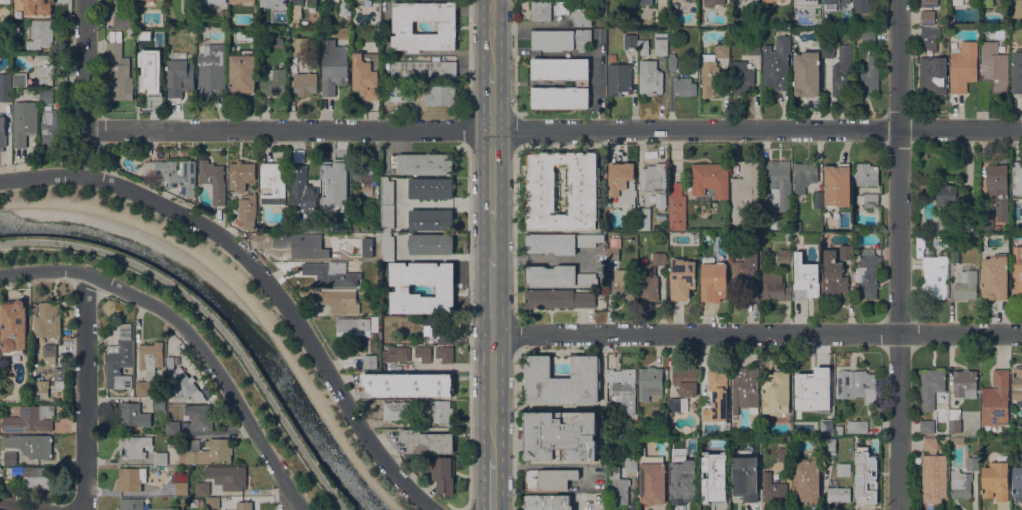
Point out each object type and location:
building: (151, 0)
building: (690, 0)
building: (773, 0)
building: (4, 1)
building: (212, 1)
building: (243, 1)
building: (646, 1)
building: (739, 1)
building: (768, 1)
building: (958, 1)
building: (262, 2)
building: (312, 2)
building: (713, 2)
building: (805, 2)
building: (987, 2)
building: (325, 3)
building: (754, 3)
building: (929, 3)
building: (830, 4)
building: (38, 6)
building: (861, 6)
building: (189, 7)
building: (344, 8)
building: (829, 8)
building: (846, 8)
building: (1017, 8)
building: (541, 10)
building: (662, 12)
building: (295, 13)
building: (574, 13)
building: (813, 13)
building: (927, 17)
building: (123, 20)
building: (303, 23)
building: (403, 26)
building: (131, 32)
building: (651, 32)
building: (857, 33)
building: (161, 34)
building: (40, 35)
building: (868, 36)
road: (492, 37)
building: (929, 38)
building: (561, 39)
building: (630, 40)
building: (661, 43)
building: (301, 46)
building: (753, 47)
building: (643, 48)
building: (722, 49)
building: (828, 50)
road: (579, 52)
building: (672, 61)
building: (776, 63)
building: (333, 66)
building: (963, 66)
building: (994, 66)
building: (44, 69)
building: (117, 69)
building: (211, 69)
building: (424, 69)
building: (561, 69)
building: (1017, 70)
building: (147, 71)
building: (841, 72)
building: (242, 73)
building: (806, 73)
building: (933, 73)
building: (366, 75)
building: (180, 77)
building: (650, 77)
building: (741, 77)
building: (867, 77)
building: (20, 79)
building: (619, 79)
building: (711, 79)
building: (274, 82)
building: (305, 83)
building: (685, 86)
building: (5, 87)
road: (84, 87)
building: (400, 94)
building: (441, 95)
building: (46, 96)
building: (561, 97)
road: (492, 101)
building: (24, 121)
building: (52, 127)
road: (553, 129)
building: (2, 131)
building: (422, 163)
building: (137, 172)
building: (175, 172)
building: (333, 172)
road: (492, 174)
building: (866, 174)
building: (241, 175)
building: (364, 177)
building: (654, 177)
building: (710, 178)
building: (1018, 178)
building: (213, 180)
building: (807, 181)
building: (273, 182)
building: (622, 182)
building: (837, 185)
building: (776, 187)
building: (431, 188)
building: (542, 189)
building: (998, 189)
building: (303, 191)
building: (387, 191)
building: (745, 191)
building: (344, 196)
building: (947, 196)
building: (868, 199)
building: (660, 200)
building: (677, 207)
building: (248, 211)
building: (387, 216)
building: (986, 217)
building: (643, 218)
building: (431, 219)
building: (965, 223)
building: (356, 226)
building: (998, 227)
building: (1005, 227)
building: (345, 228)
building: (950, 230)
road: (514, 231)
building: (362, 237)
road: (492, 239)
building: (559, 242)
building: (944, 242)
building: (300, 244)
building: (431, 244)
building: (388, 246)
building: (846, 252)
building: (613, 253)
building: (785, 255)
building: (797, 255)
road: (899, 255)
building: (953, 255)
road: (541, 259)
building: (932, 271)
building: (1017, 271)
building: (332, 273)
building: (834, 274)
building: (868, 274)
road: (261, 275)
building: (557, 275)
building: (746, 275)
building: (651, 277)
building: (995, 277)
building: (682, 278)
building: (714, 280)
building: (624, 284)
building: (807, 284)
building: (966, 285)
building: (775, 286)
building: (446, 288)
road: (242, 293)
road: (492, 296)
building: (559, 298)
building: (339, 299)
river: (226, 310)
road: (213, 318)
building: (48, 320)
building: (375, 323)
building: (353, 324)
building: (14, 327)
building: (437, 328)
road: (515, 332)
road: (756, 333)
road: (190, 334)
building: (423, 352)
building: (396, 353)
building: (445, 353)
building: (49, 355)
building: (151, 358)
building: (120, 359)
building: (371, 360)
building: (191, 368)
building: (57, 373)
building: (685, 380)
building: (202, 381)
building: (562, 381)
building: (182, 382)
building: (648, 382)
building: (806, 382)
building: (1017, 382)
building: (965, 383)
building: (409, 384)
building: (857, 385)
building: (142, 387)
building: (931, 387)
building: (40, 388)
building: (745, 388)
road: (86, 391)
building: (622, 392)
building: (777, 392)
road: (492, 395)
building: (717, 395)
building: (995, 400)
building: (159, 403)
building: (423, 403)
building: (677, 404)
building: (398, 410)
building: (442, 410)
building: (133, 414)
building: (199, 416)
building: (632, 418)
building: (30, 419)
building: (954, 420)
building: (823, 424)
building: (858, 426)
building: (927, 426)
building: (173, 427)
building: (839, 429)
road: (514, 430)
building: (560, 436)
building: (703, 440)
building: (958, 440)
building: (427, 441)
building: (754, 443)
building: (30, 444)
building: (930, 444)
building: (940, 445)
building: (134, 446)
building: (829, 446)
building: (864, 447)
building: (209, 450)
building: (784, 454)
building: (1021, 457)
building: (10, 458)
building: (160, 458)
building: (723, 458)
building: (973, 462)
building: (631, 463)
building: (689, 463)
building: (725, 468)
building: (843, 469)
building: (443, 472)
building: (228, 476)
building: (934, 476)
building: (33, 477)
building: (131, 478)
building: (549, 478)
building: (745, 478)
building: (996, 479)
building: (807, 480)
building: (652, 482)
building: (1017, 482)
building: (960, 483)
road: (492, 484)
building: (617, 486)
building: (181, 488)
building: (202, 488)
building: (773, 489)
building: (712, 490)
building: (838, 492)
building: (681, 493)
building: (863, 493)
building: (213, 502)
building: (548, 502)
building: (131, 504)
road: (22, 505)
road: (293, 505)
building: (243, 506)
building: (170, 508)
road: (74, 509)

